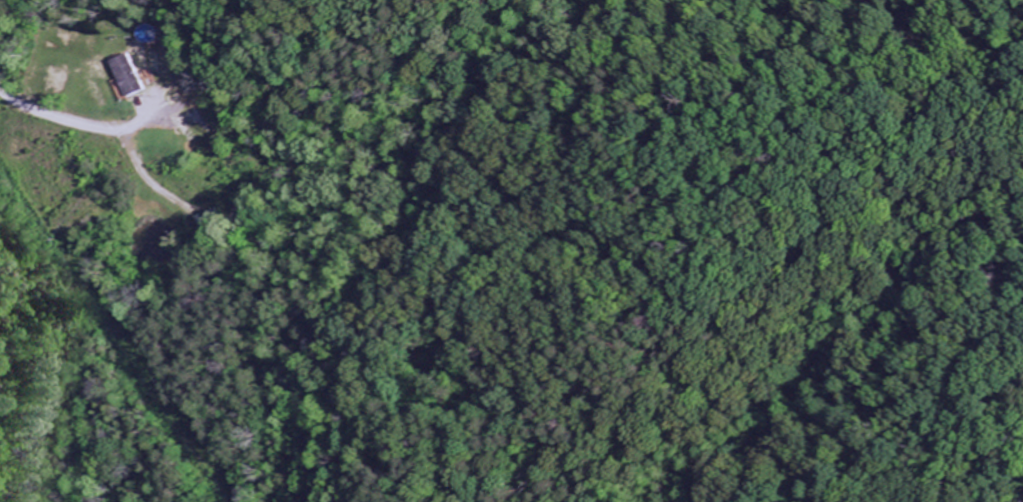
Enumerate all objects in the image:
building: (137, 77)
road: (73, 124)
building: (213, 223)

